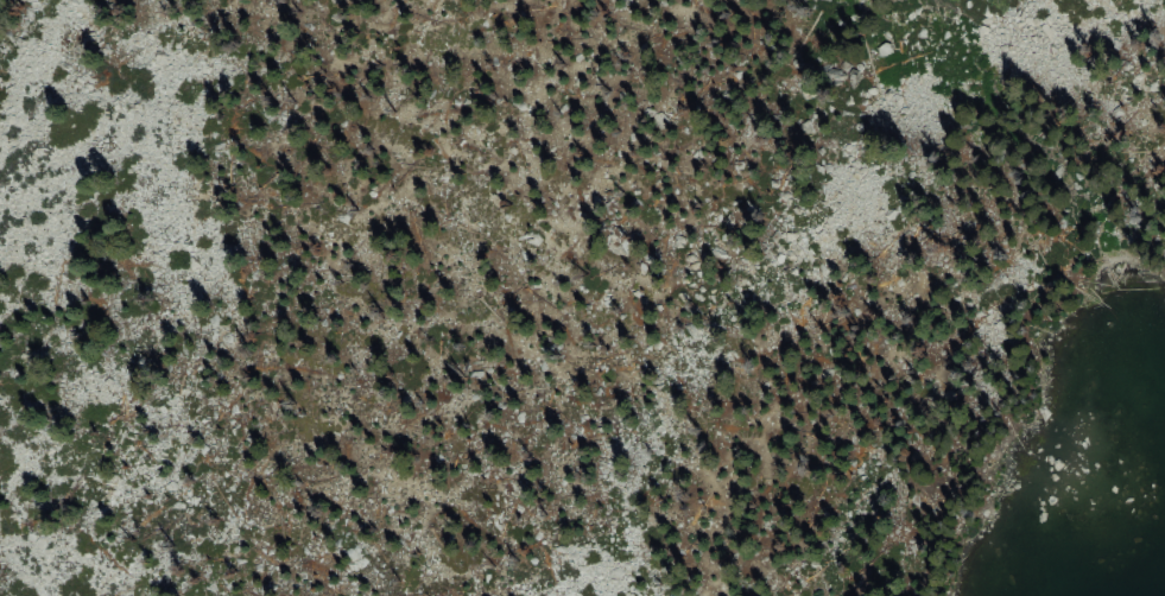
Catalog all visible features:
road: (1037, 309)

